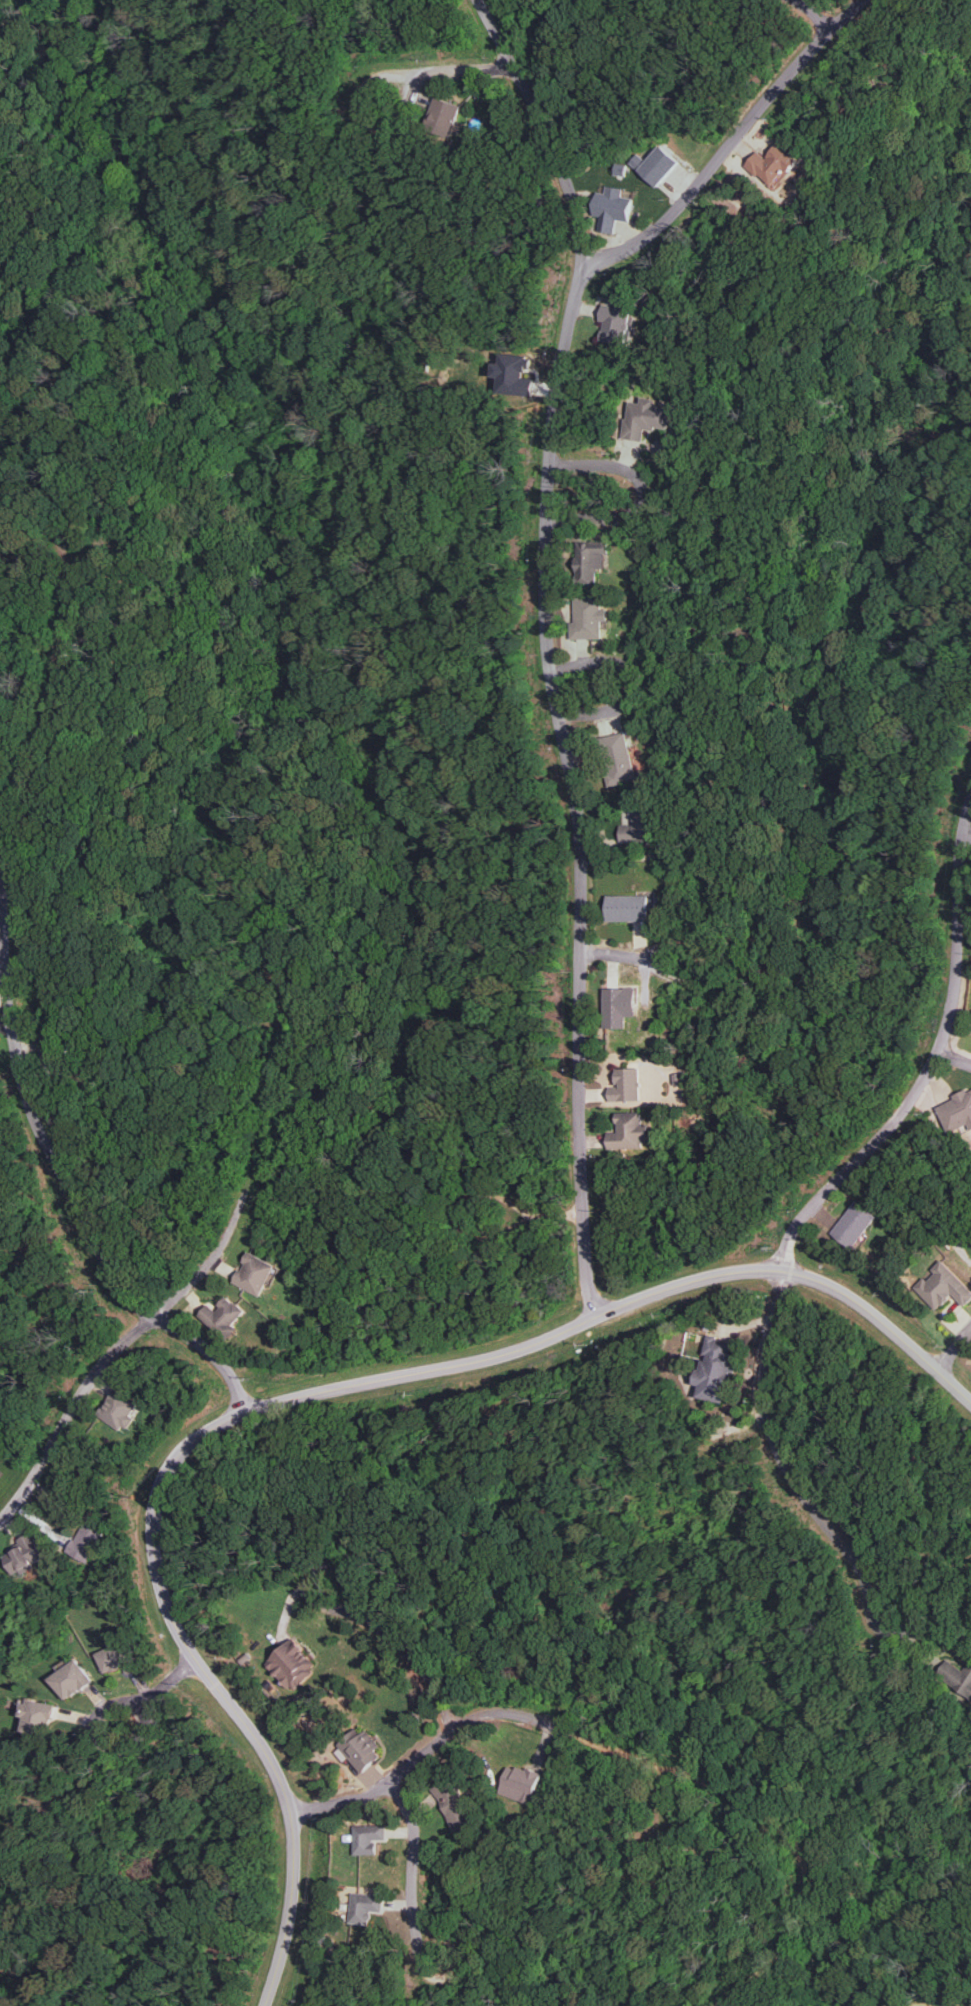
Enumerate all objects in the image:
road: (815, 13)
road: (442, 72)
building: (442, 114)
road: (731, 144)
building: (656, 165)
building: (772, 165)
building: (612, 208)
building: (615, 323)
building: (512, 374)
building: (644, 418)
road: (644, 493)
building: (589, 559)
building: (587, 617)
road: (548, 648)
road: (58, 679)
road: (637, 681)
building: (618, 758)
building: (640, 826)
road: (966, 835)
building: (627, 907)
road: (631, 955)
building: (618, 1006)
road: (5, 1020)
road: (954, 1060)
road: (933, 1062)
building: (626, 1085)
building: (956, 1111)
building: (628, 1131)
road: (61, 1166)
road: (250, 1172)
road: (536, 1215)
building: (853, 1224)
road: (66, 1266)
building: (253, 1273)
building: (943, 1286)
building: (222, 1316)
road: (954, 1348)
building: (715, 1369)
road: (298, 1398)
building: (119, 1409)
road: (70, 1412)
road: (784, 1458)
road: (706, 1476)
building: (84, 1542)
building: (24, 1554)
road: (404, 1647)
building: (116, 1656)
building: (292, 1664)
building: (957, 1675)
building: (70, 1679)
road: (158, 1692)
building: (36, 1716)
building: (361, 1748)
road: (640, 1756)
building: (520, 1783)
building: (453, 1803)
road: (663, 1810)
building: (368, 1838)
road: (414, 1869)
building: (364, 1906)
road: (942, 2003)

